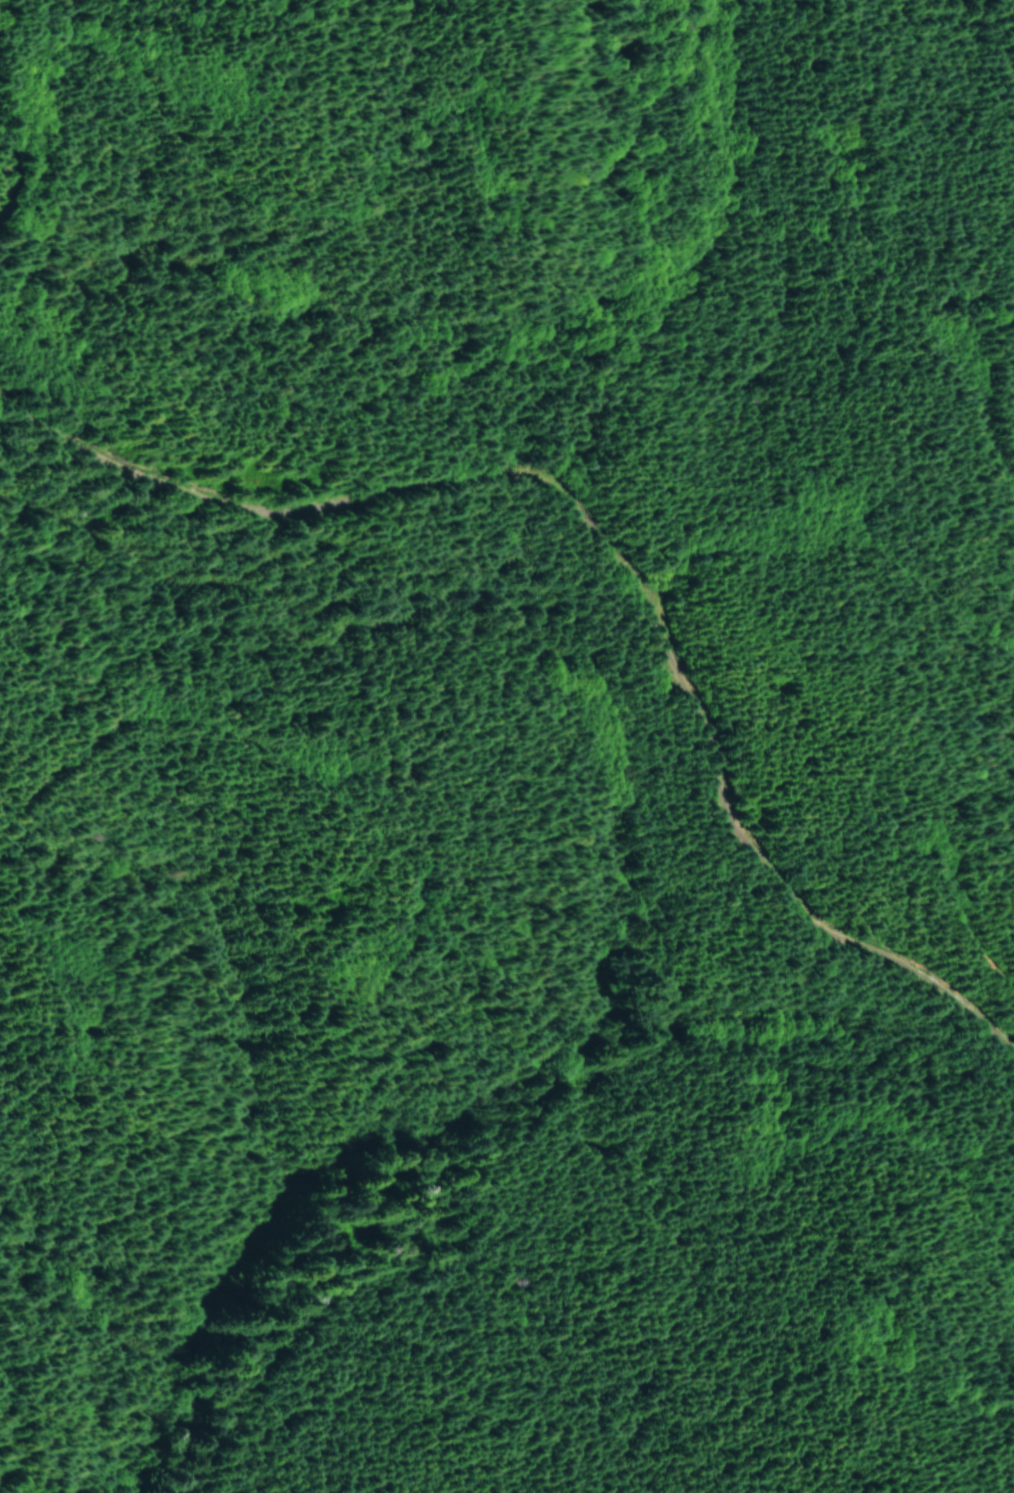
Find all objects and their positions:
road: (586, 642)

